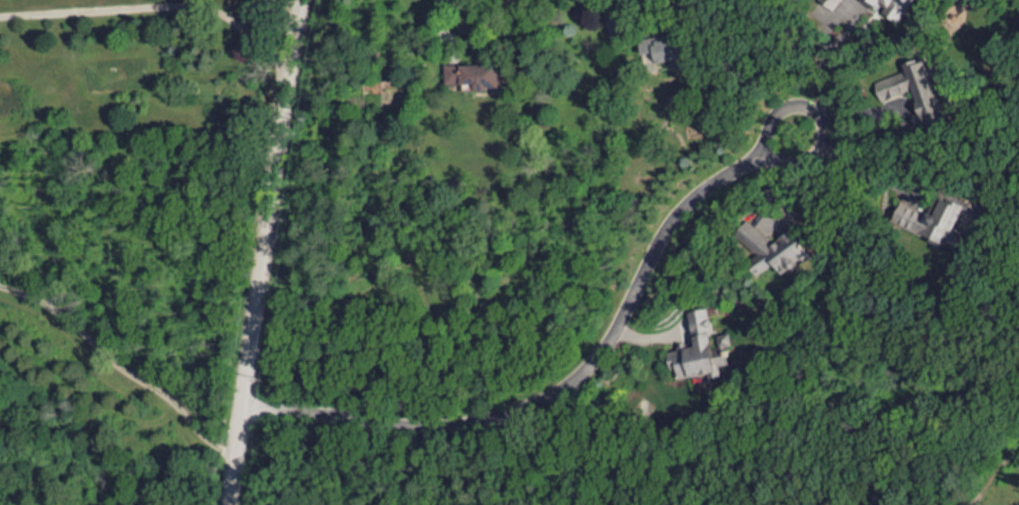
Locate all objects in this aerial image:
road: (153, 8)
road: (655, 10)
road: (468, 44)
road: (815, 67)
road: (862, 169)
road: (263, 252)
building: (694, 347)
road: (120, 368)
road: (576, 380)

